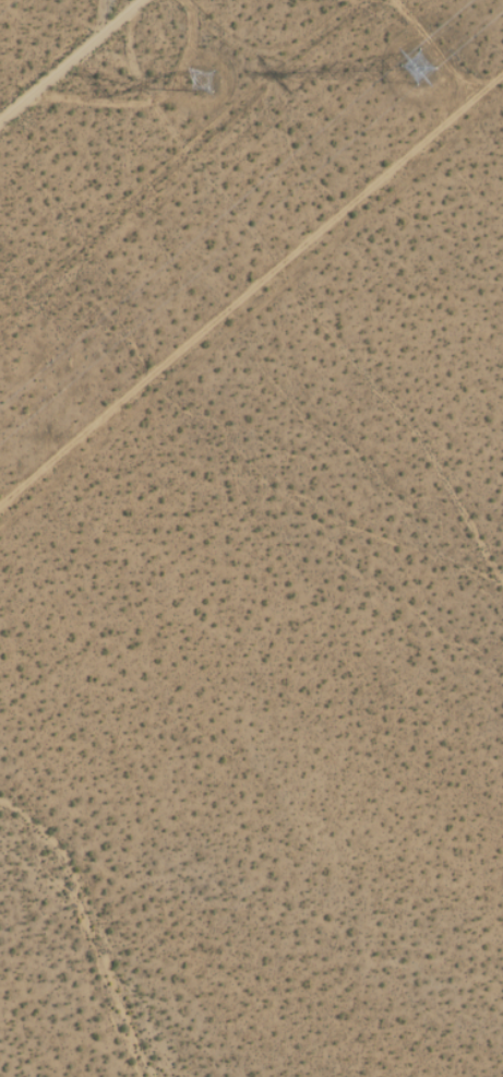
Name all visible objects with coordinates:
road: (74, 62)
power tower: (418, 66)
power tower: (204, 80)

